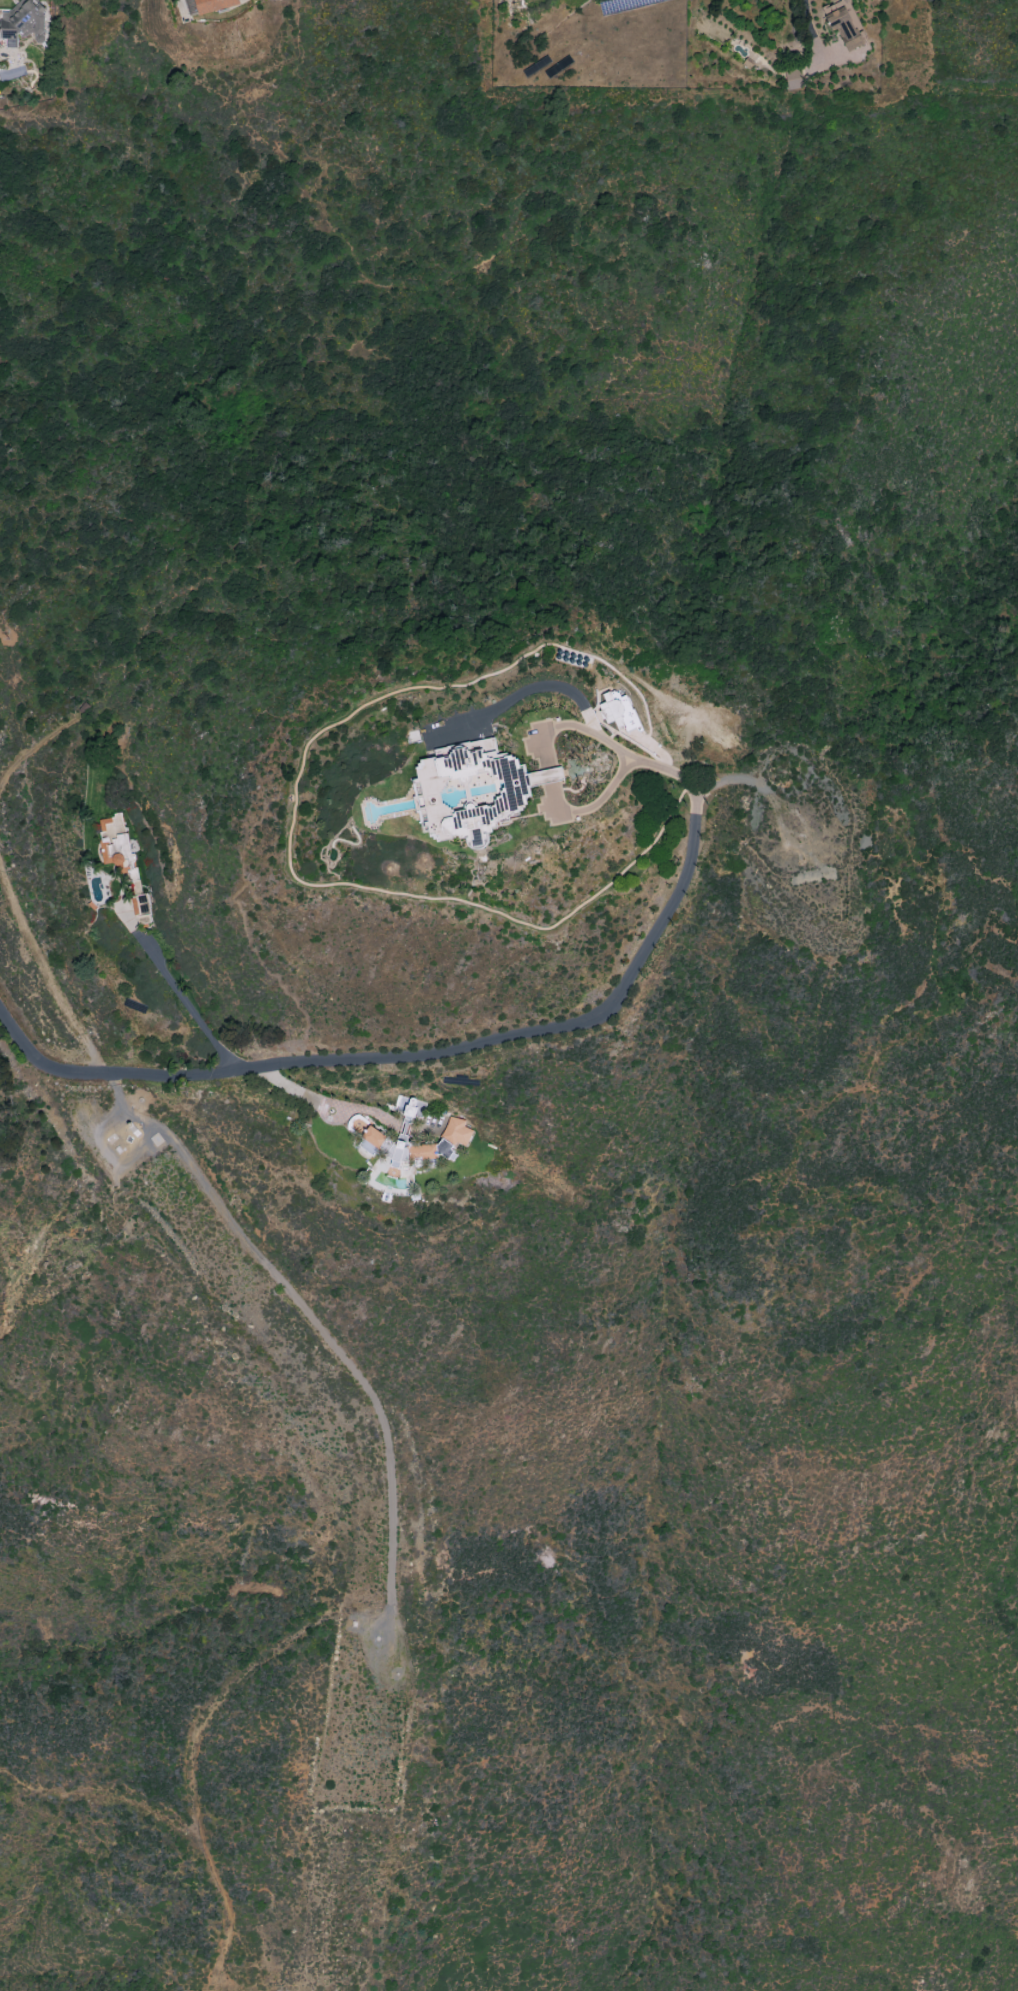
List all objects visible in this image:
building: (214, 5)
building: (844, 22)
building: (21, 24)
road: (808, 24)
building: (619, 710)
road: (591, 726)
road: (29, 748)
building: (471, 791)
road: (552, 792)
building: (116, 845)
road: (177, 991)
road: (409, 1058)
road: (301, 1089)
building: (456, 1131)
building: (418, 1150)
road: (228, 1218)
road: (191, 1740)
road: (103, 1792)

